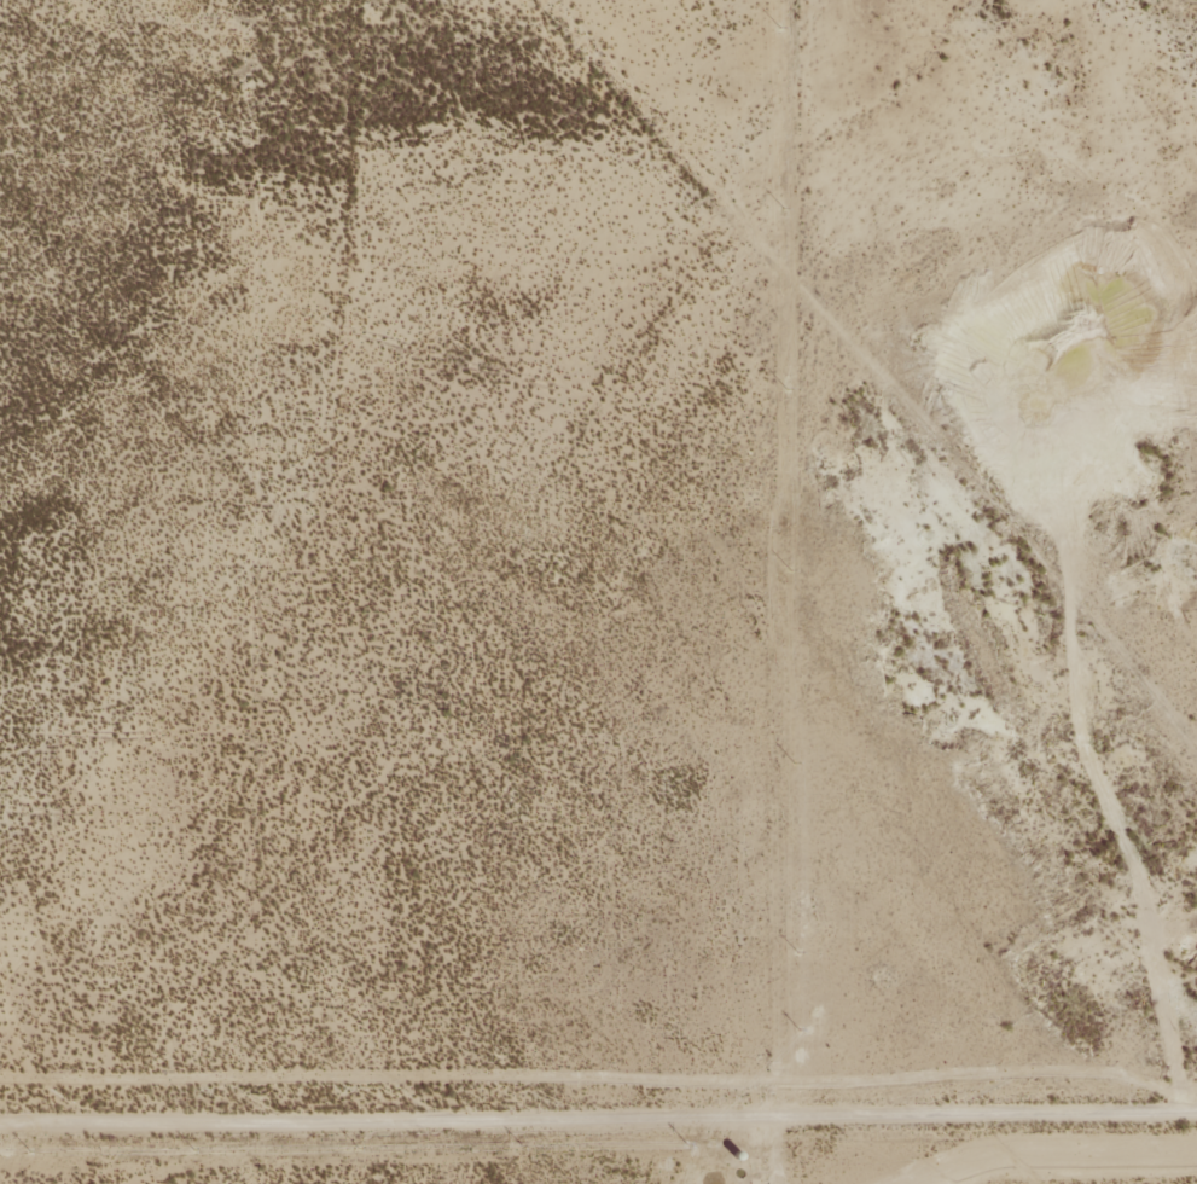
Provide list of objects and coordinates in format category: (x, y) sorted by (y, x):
road: (804, 593)
road: (597, 1075)
road: (598, 1150)
road: (88, 1167)

